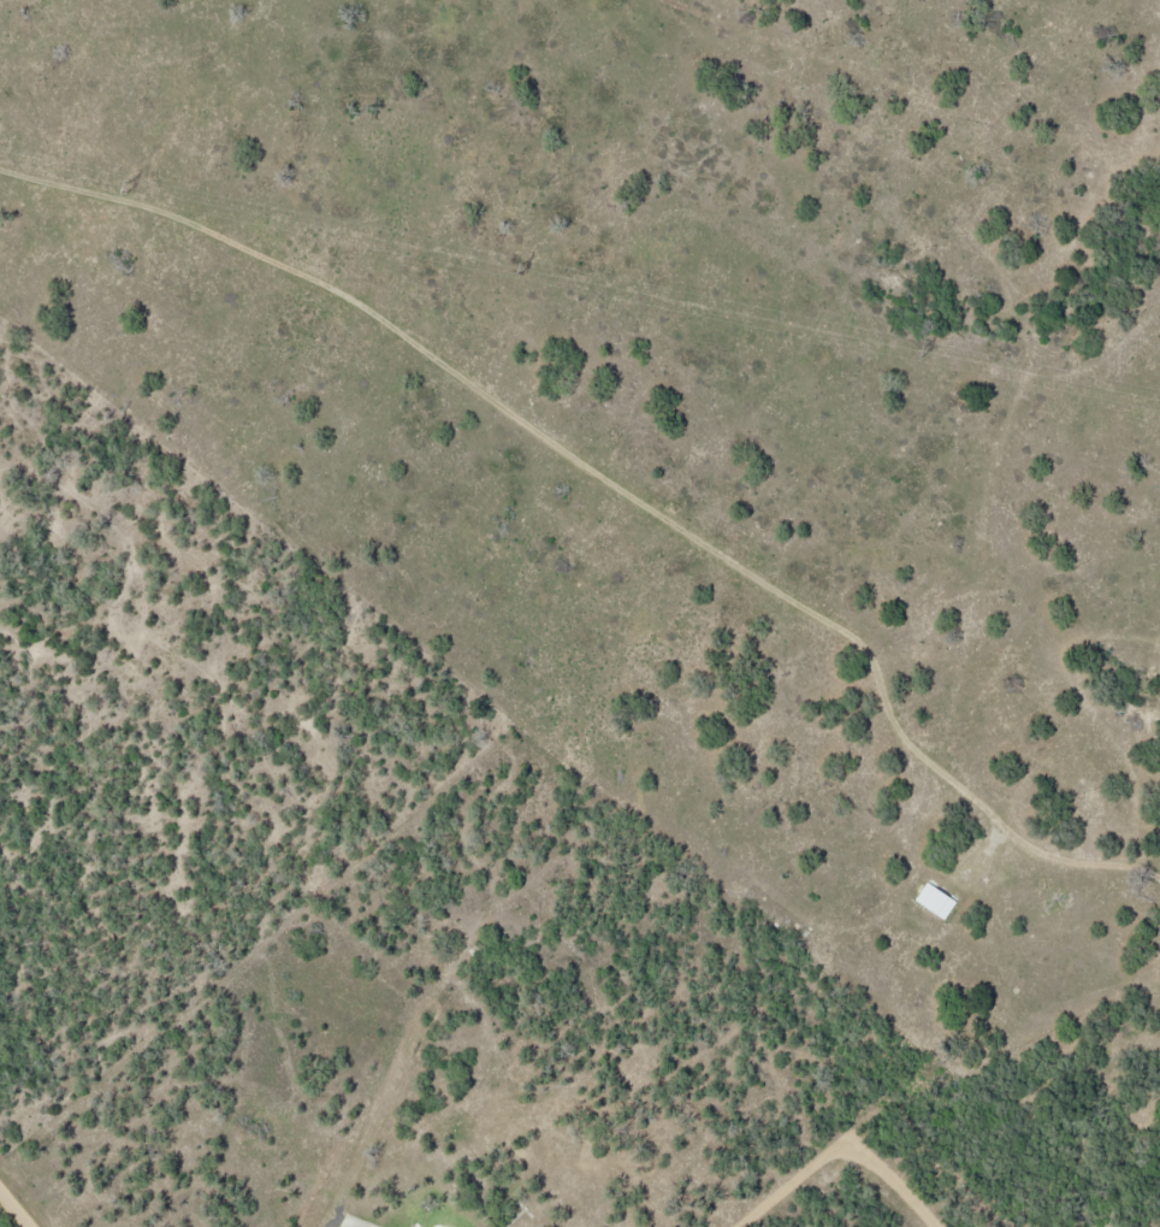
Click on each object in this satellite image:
power tower: (129, 185)
power tower: (522, 267)
power tower: (923, 350)
road: (16, 1207)
road: (337, 1222)

